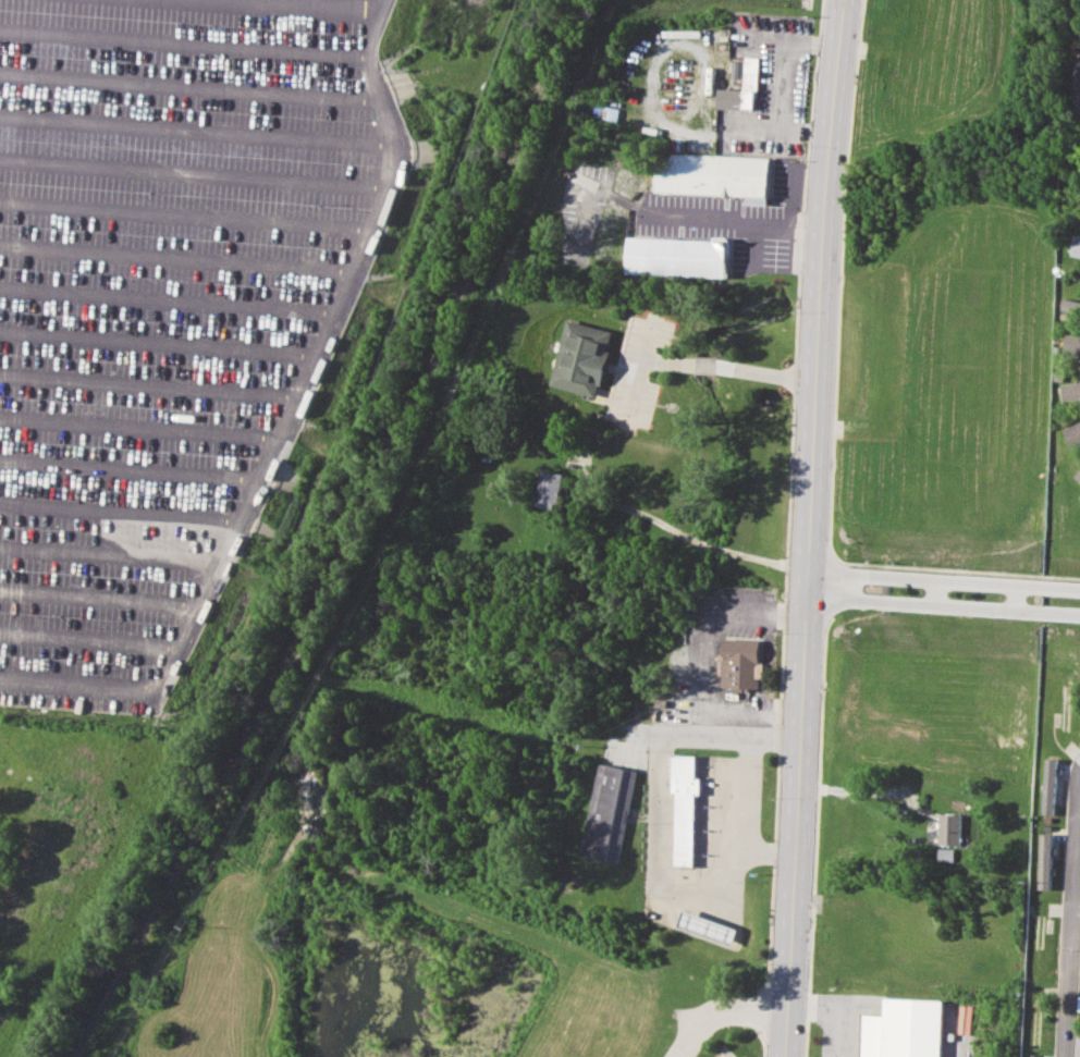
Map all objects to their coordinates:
road: (328, 3)
building: (734, 70)
building: (749, 73)
building: (1077, 86)
river: (1004, 151)
building: (710, 174)
road: (622, 199)
parking lot: (579, 207)
road: (581, 210)
road: (713, 216)
parking lot: (729, 219)
road: (799, 220)
building: (1076, 246)
building: (676, 256)
river: (829, 278)
parking lot: (167, 306)
building: (1070, 306)
building: (1071, 343)
building: (580, 357)
road: (728, 367)
parking lot: (637, 372)
road: (639, 372)
building: (1070, 393)
road: (282, 421)
building: (1072, 433)
building: (1077, 476)
building: (549, 489)
road: (633, 508)
road: (807, 528)
railway: (355, 540)
road: (716, 546)
road: (764, 558)
road: (943, 579)
river: (654, 599)
road: (942, 604)
road: (705, 663)
building: (740, 663)
road: (758, 739)
building: (1050, 786)
road: (4, 789)
road: (740, 792)
building: (684, 804)
building: (607, 812)
building: (948, 828)
road: (749, 849)
building: (945, 855)
building: (1045, 861)
road: (1076, 906)
road: (1070, 915)
building: (705, 927)
building: (1079, 1003)
road: (832, 1012)
road: (724, 1016)
building: (898, 1029)
road: (948, 1036)

